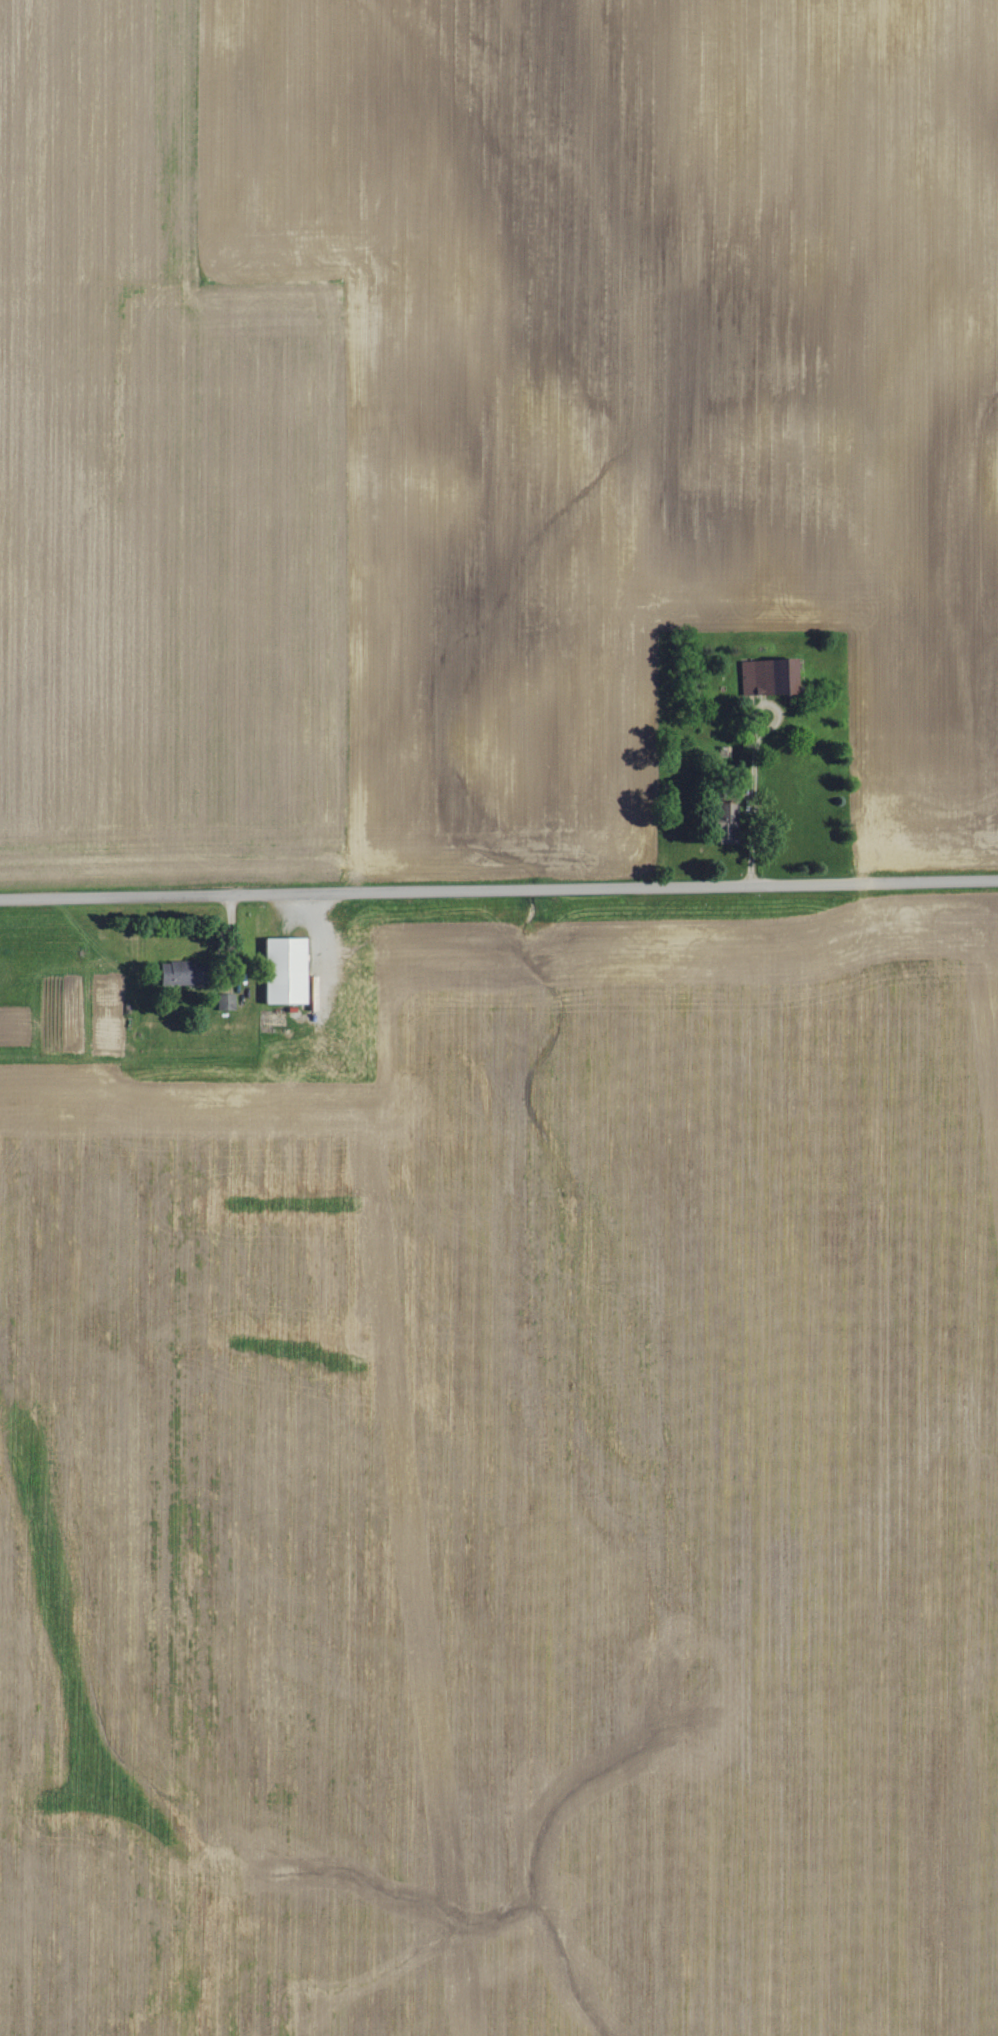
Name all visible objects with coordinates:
road: (499, 887)
building: (178, 969)
building: (289, 970)

